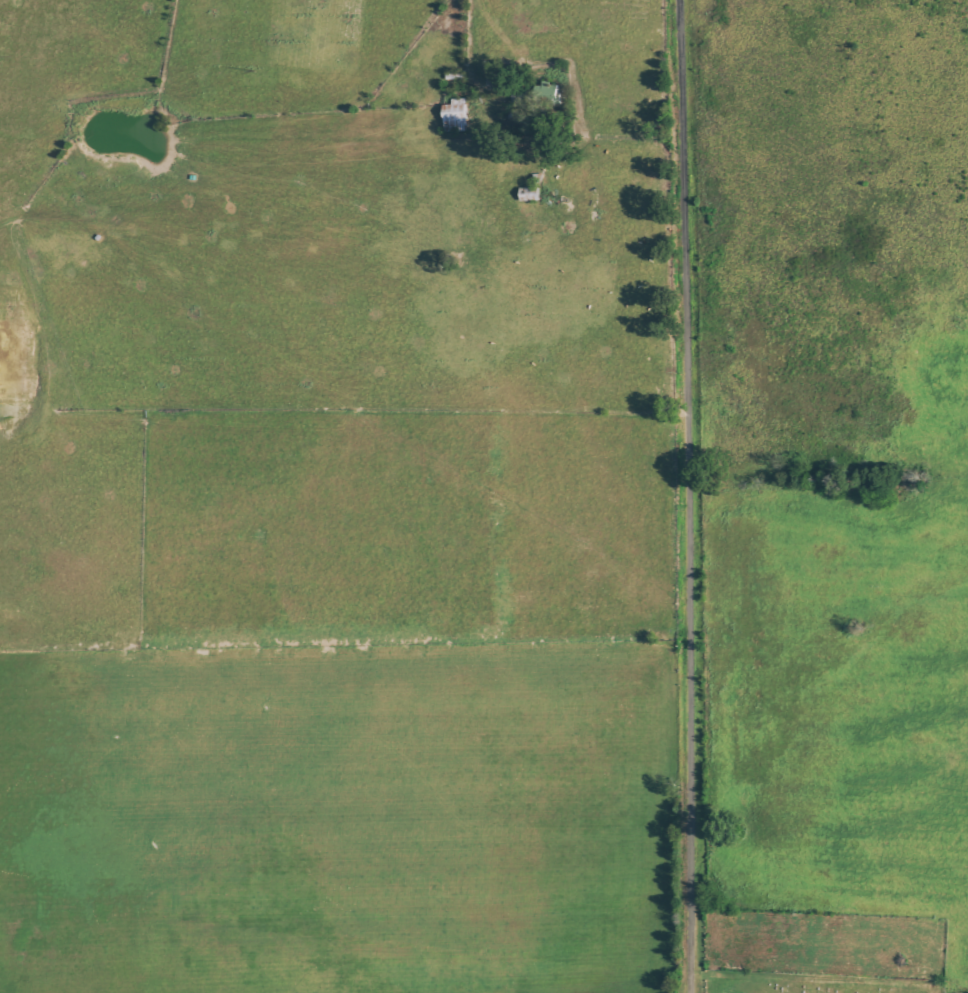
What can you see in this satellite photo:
building: (456, 116)
road: (690, 496)
park: (823, 953)

